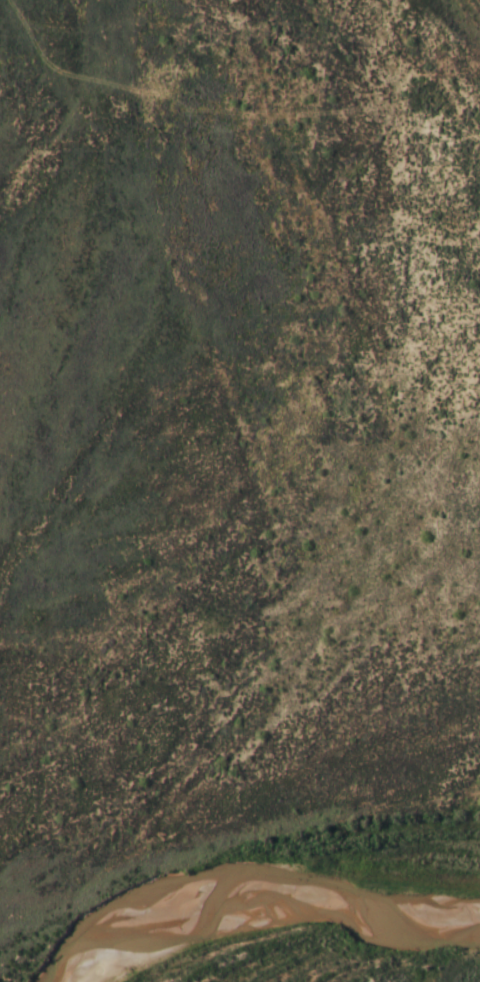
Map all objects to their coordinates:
river: (293, 915)

